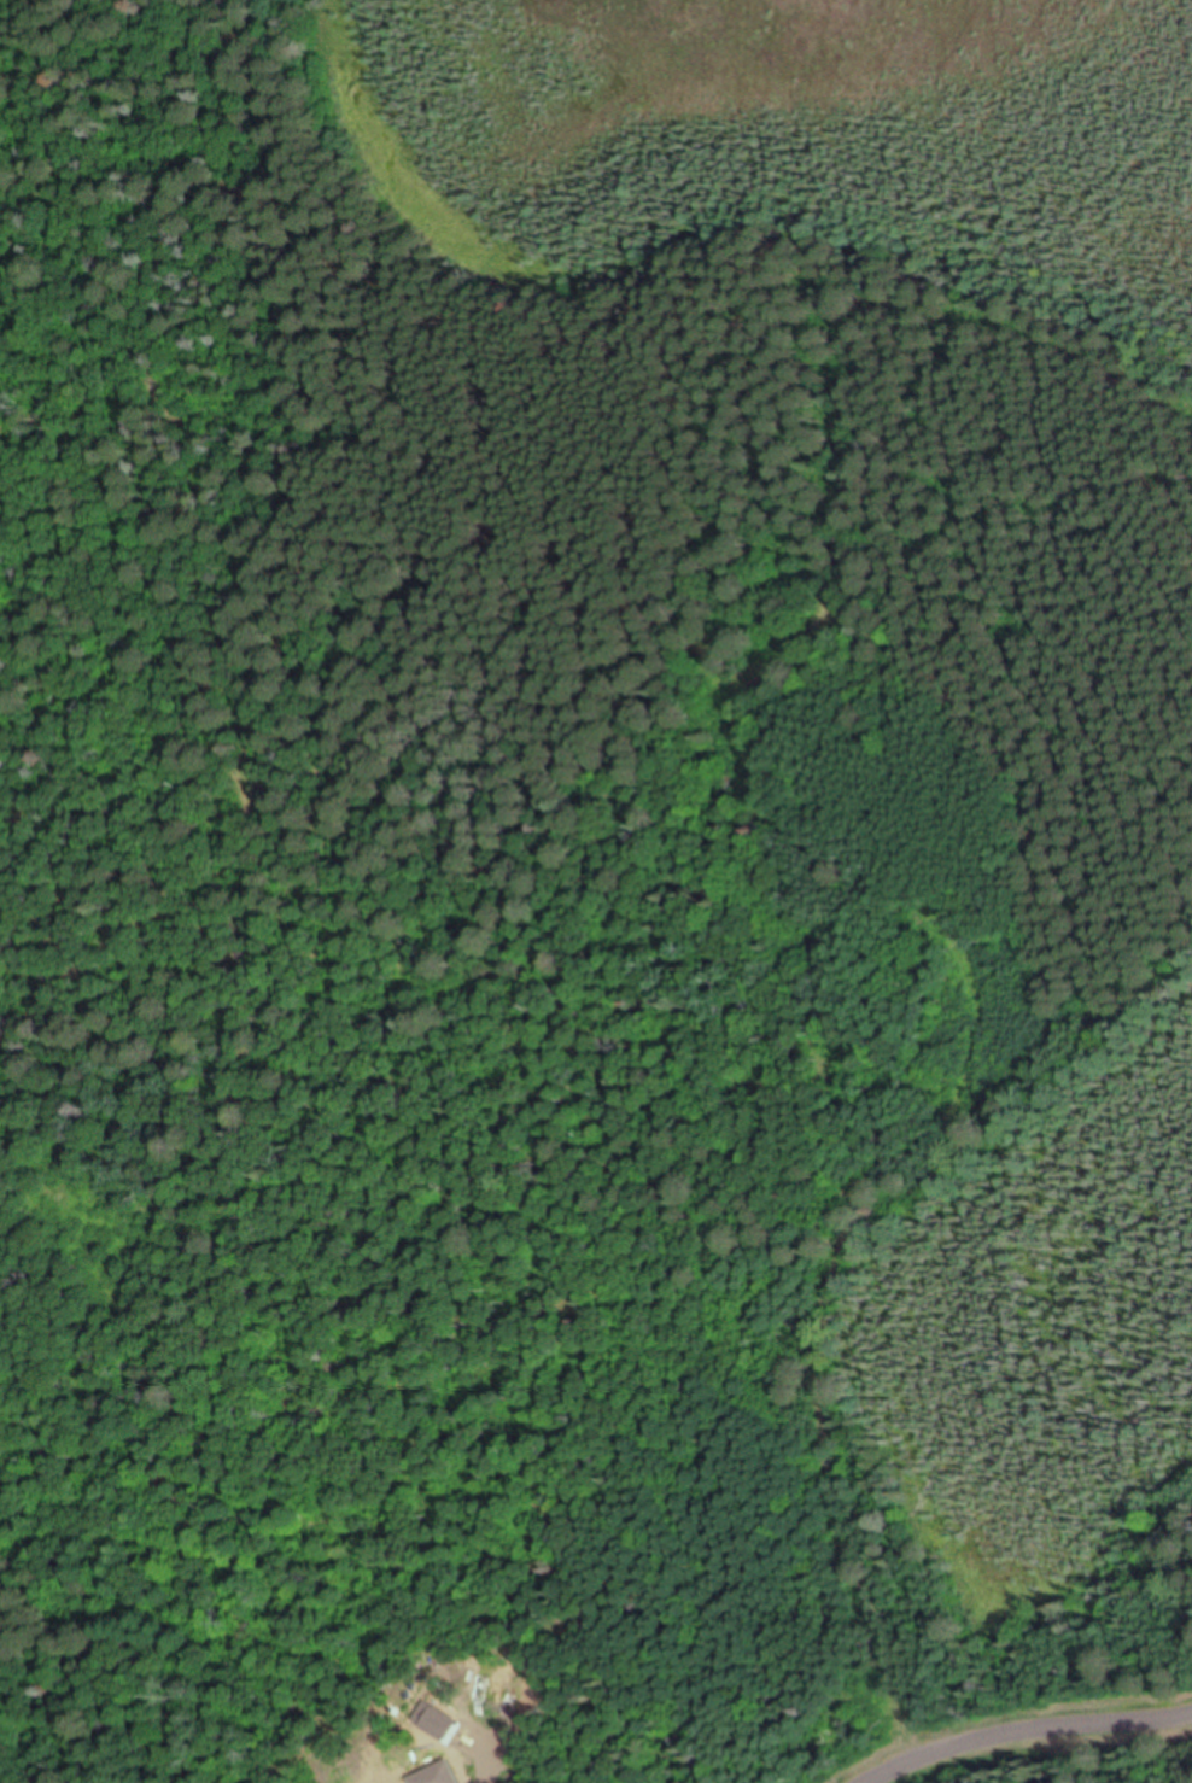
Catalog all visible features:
road: (1032, 1741)

